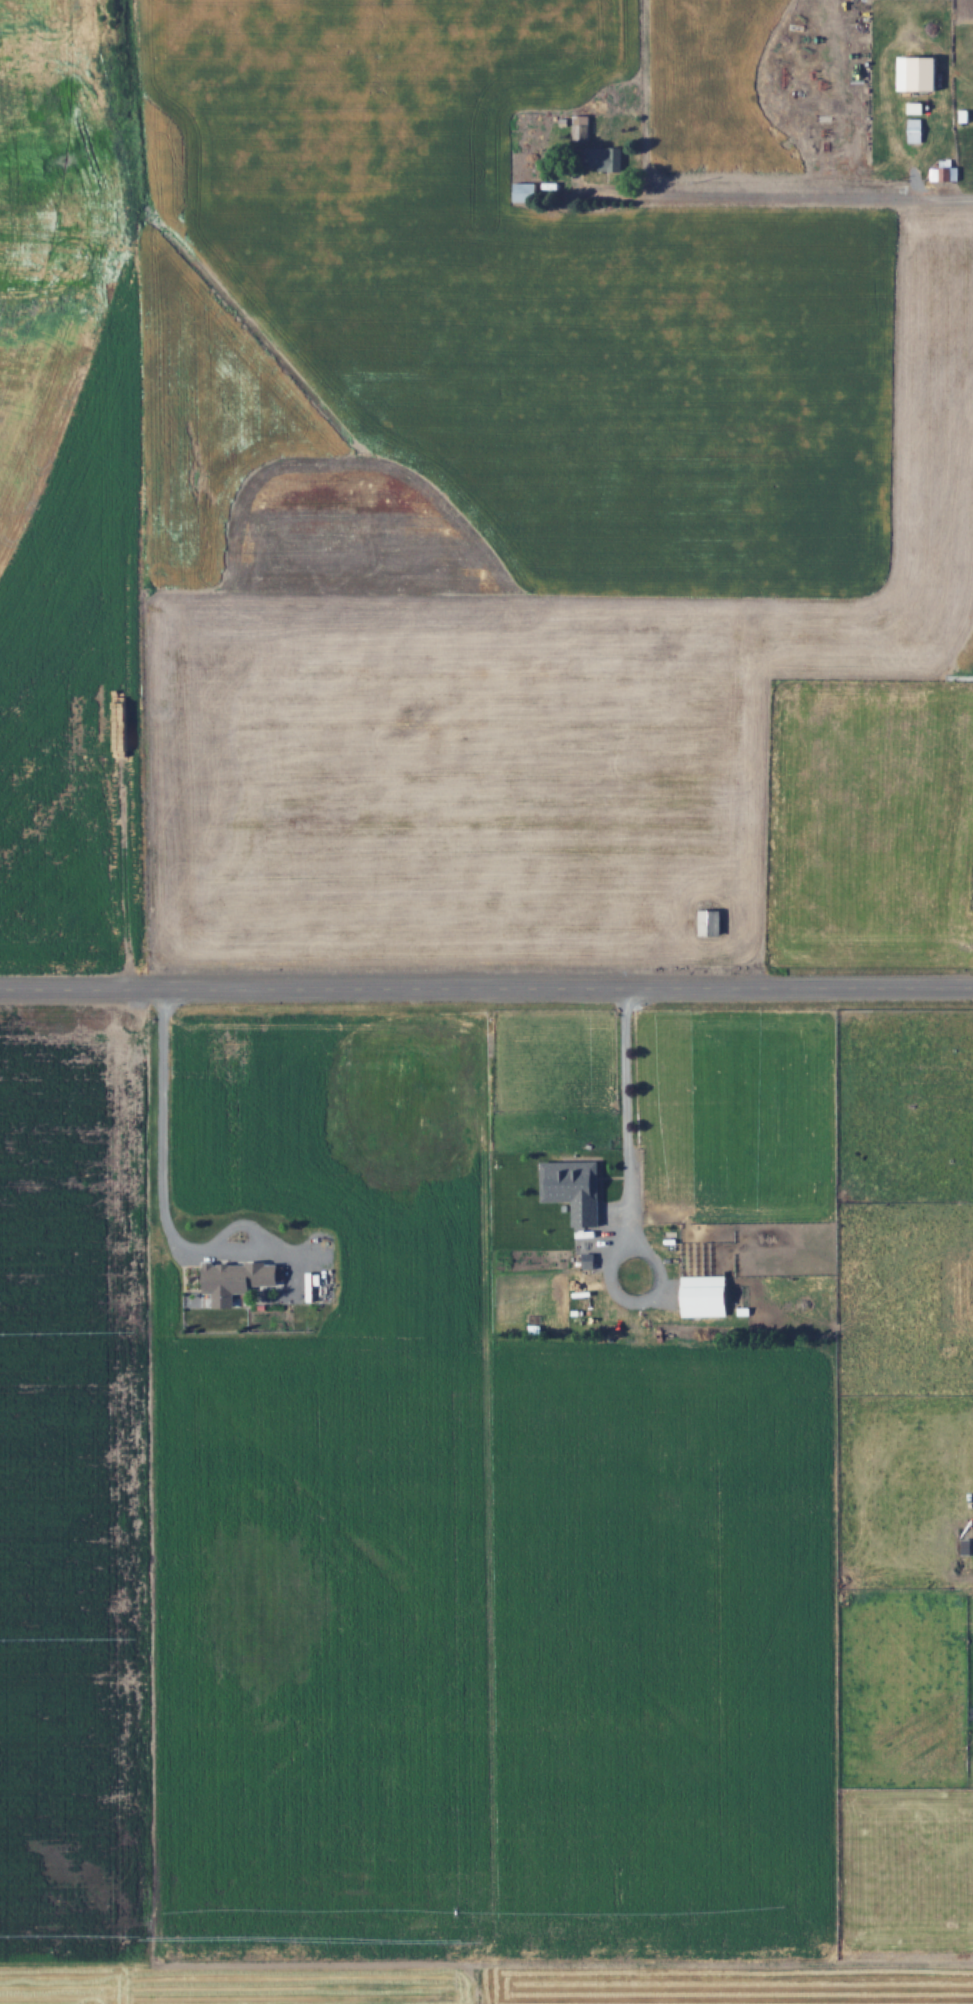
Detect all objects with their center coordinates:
building: (925, 73)
building: (582, 127)
building: (916, 130)
building: (603, 157)
building: (945, 171)
building: (525, 192)
road: (775, 195)
crop: (44, 261)
crop: (484, 328)
crop: (536, 724)
building: (710, 921)
road: (486, 986)
road: (628, 1100)
road: (164, 1143)
building: (575, 1187)
building: (239, 1277)
building: (706, 1295)

